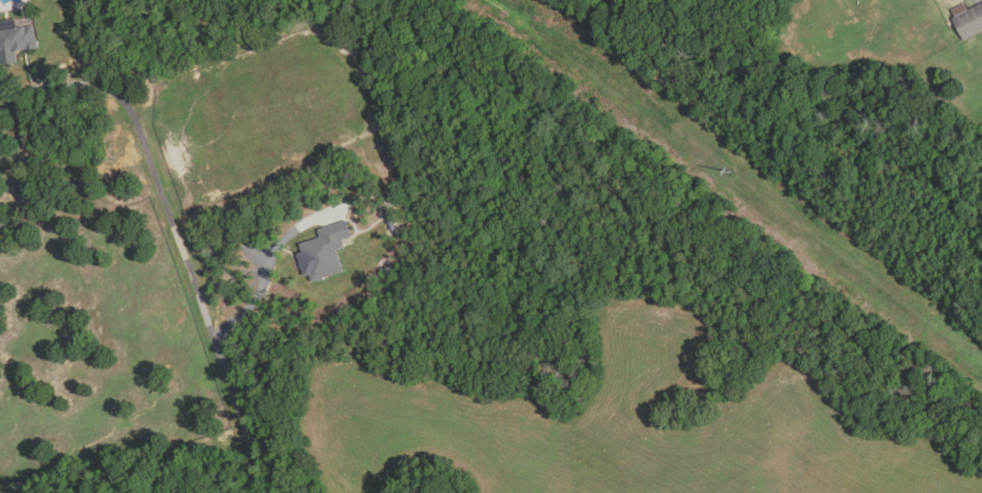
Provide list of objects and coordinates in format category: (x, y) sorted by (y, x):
building: (58, 0)
building: (968, 21)
building: (15, 42)
road: (59, 82)
power tower: (730, 173)
building: (391, 220)
building: (324, 251)
road: (266, 270)
road: (200, 290)

